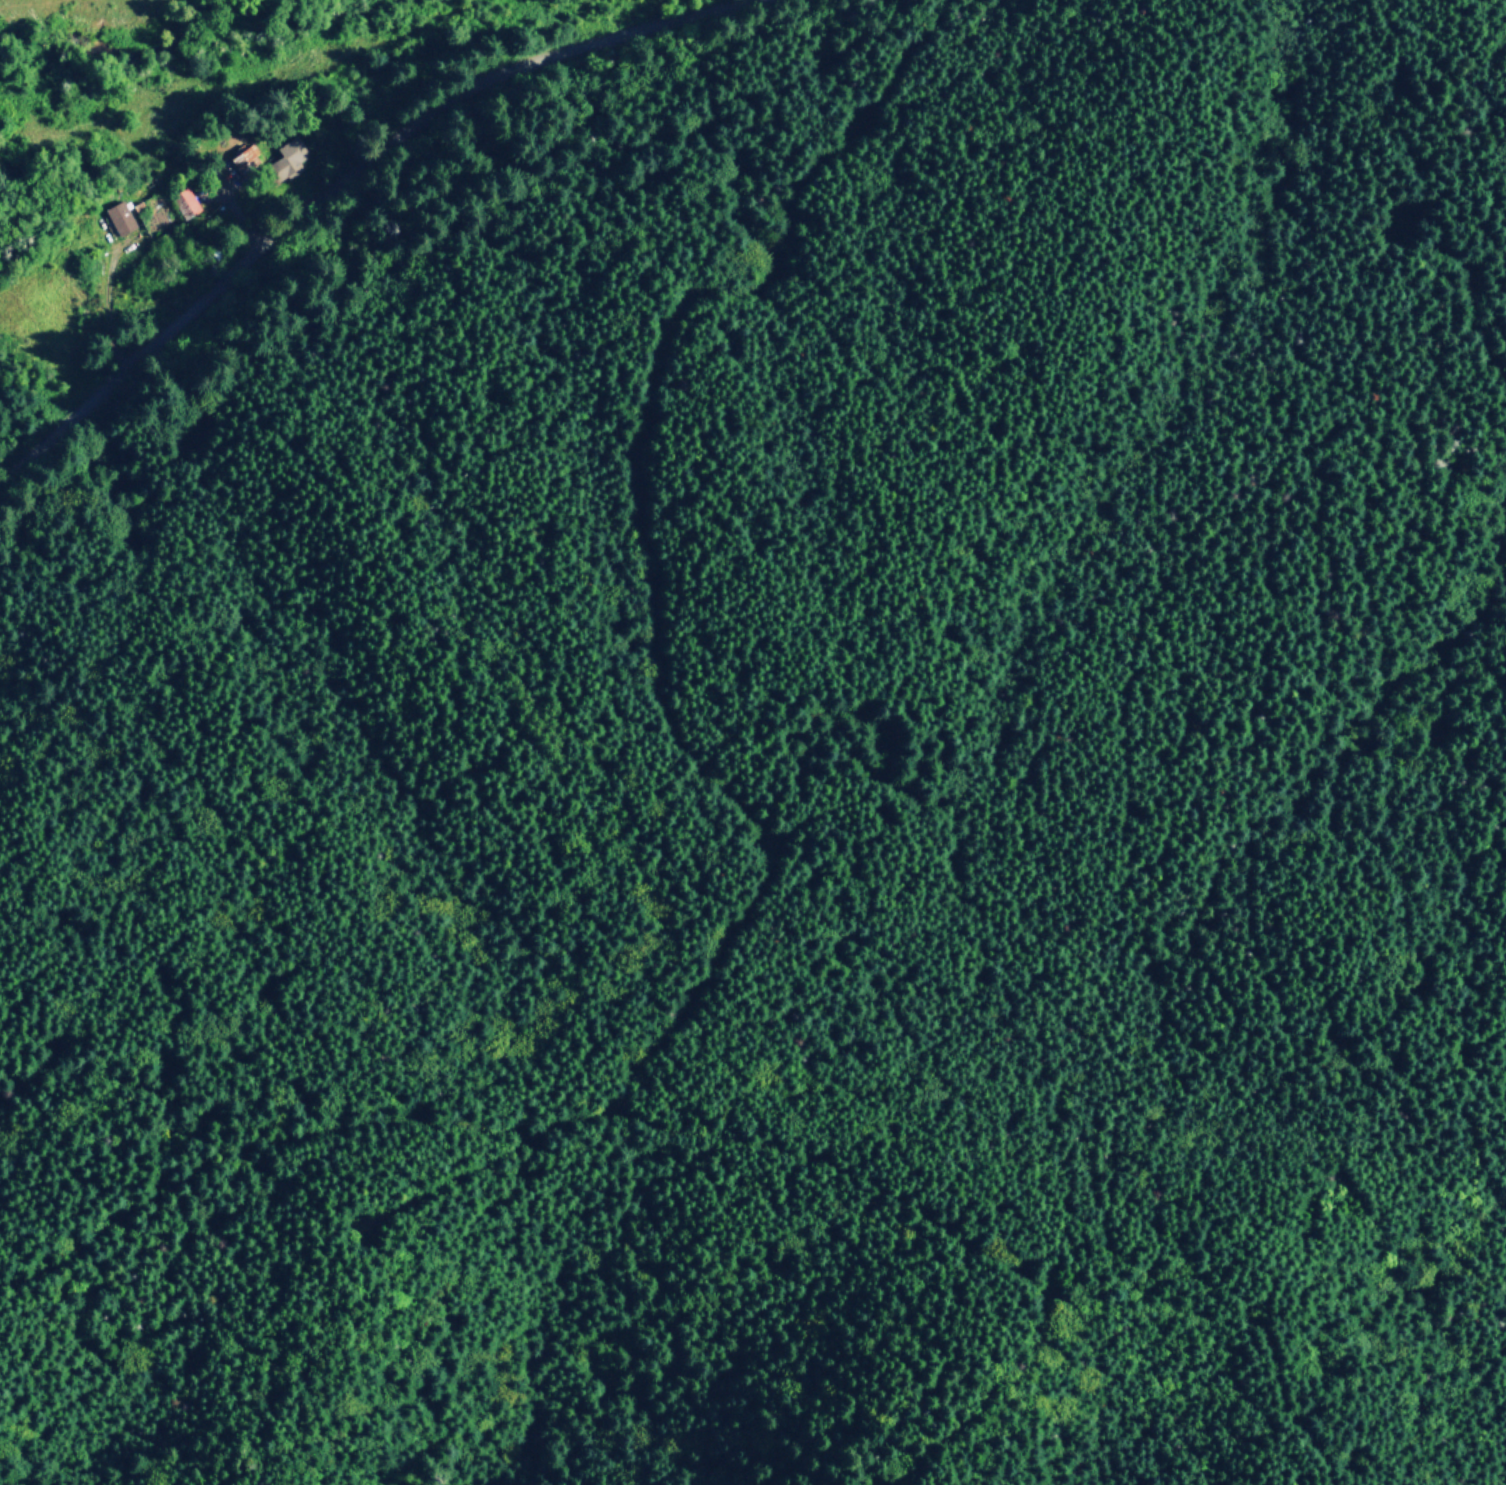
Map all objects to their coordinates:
building: (289, 156)
road: (337, 180)
road: (638, 532)
road: (644, 1124)
road: (439, 1184)

